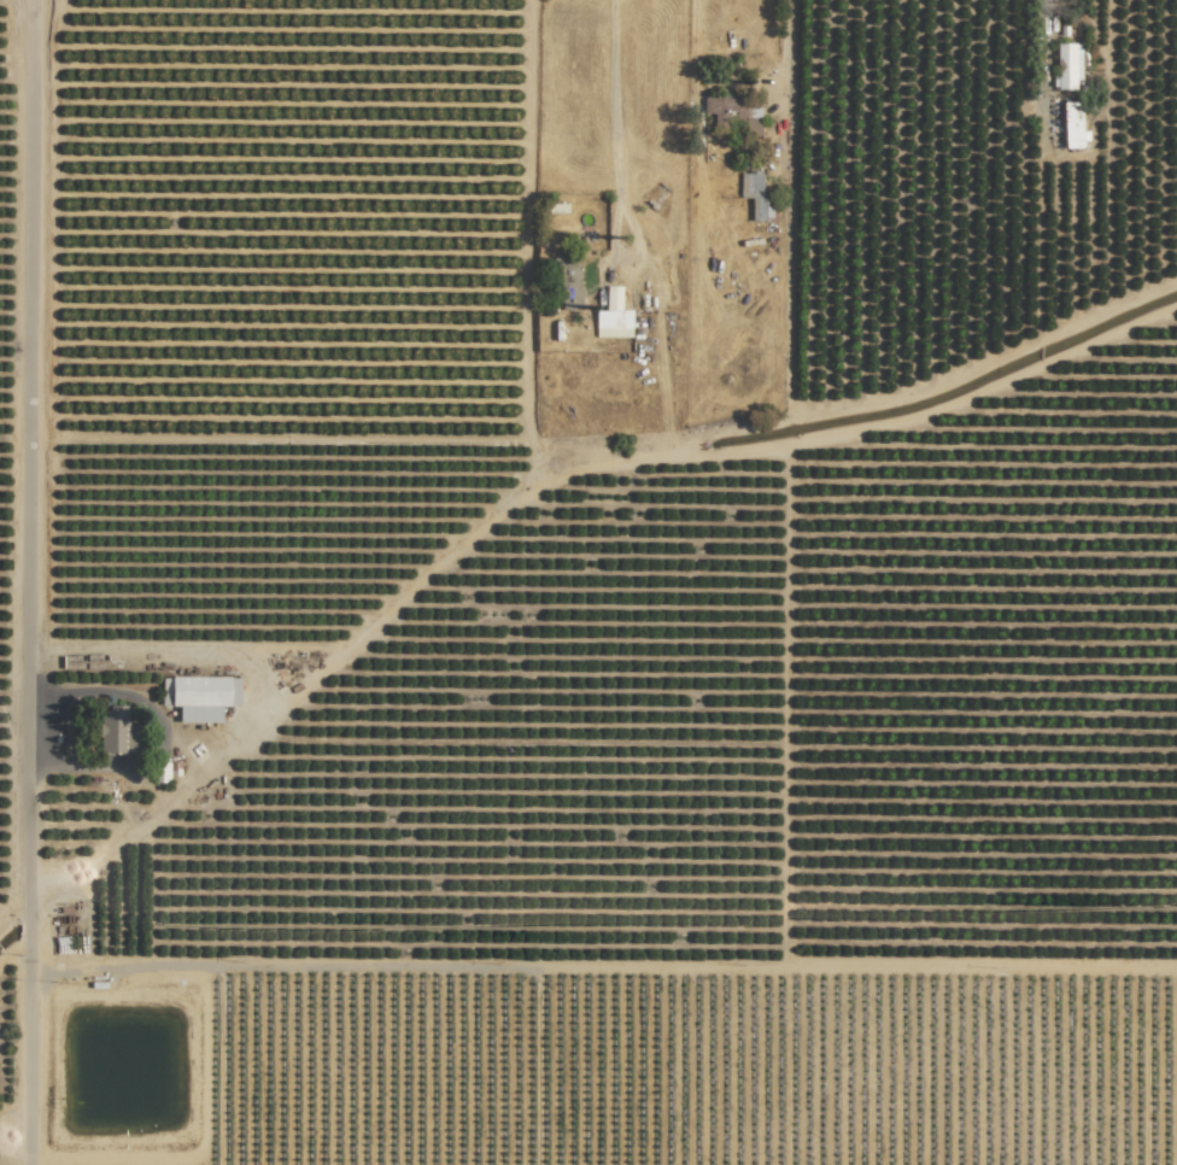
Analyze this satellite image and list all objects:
building: (1068, 65)
road: (619, 119)
building: (1073, 125)
road: (786, 142)
building: (753, 193)
road: (523, 218)
building: (614, 316)
road: (280, 437)
road: (30, 582)
building: (204, 697)
building: (117, 732)

